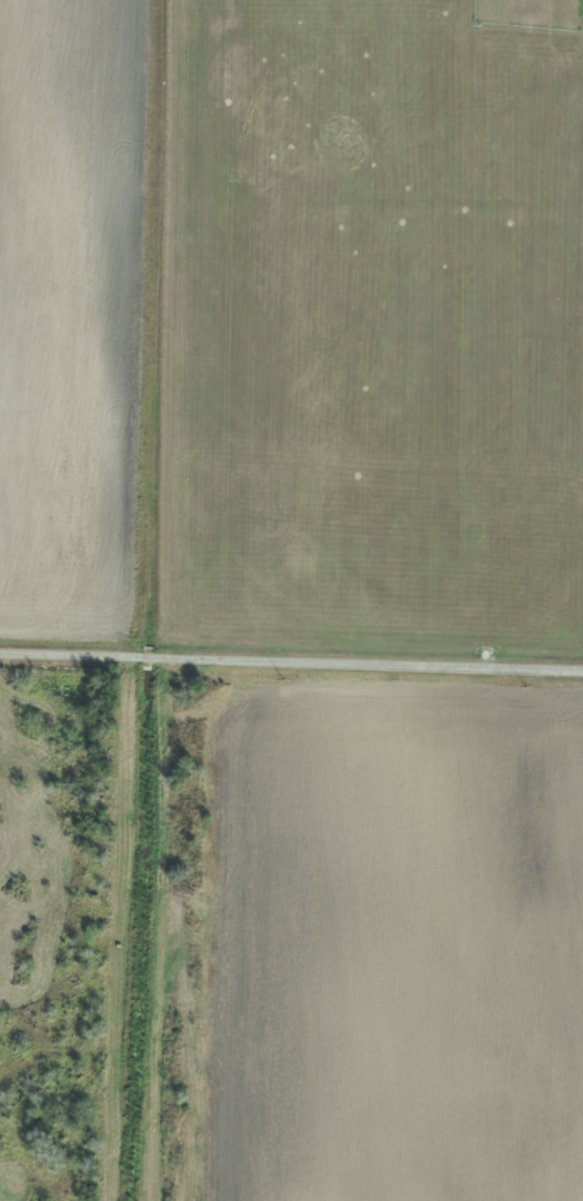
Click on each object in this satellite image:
crop: (68, 309)
road: (291, 660)

